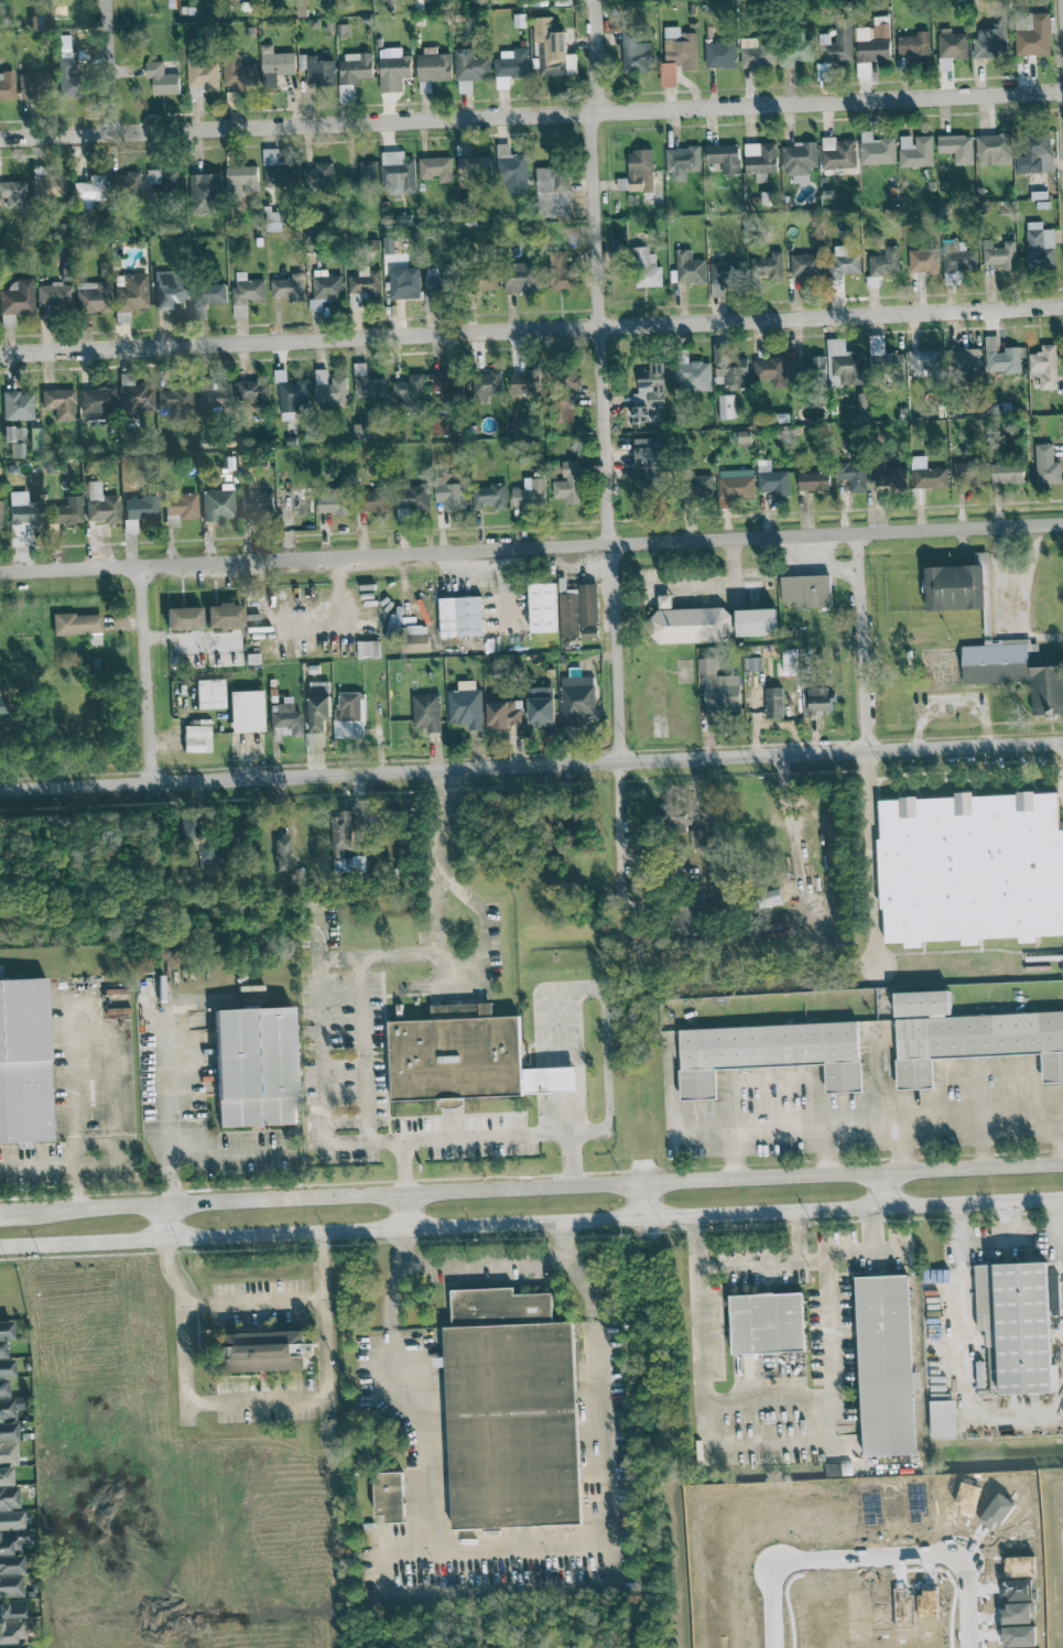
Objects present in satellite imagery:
building: (1033, 35)
building: (837, 42)
building: (991, 42)
building: (871, 44)
building: (952, 44)
building: (915, 45)
building: (681, 47)
building: (554, 48)
building: (795, 51)
building: (757, 52)
building: (636, 53)
building: (720, 54)
building: (512, 63)
building: (275, 65)
road: (110, 67)
building: (356, 67)
building: (433, 67)
building: (393, 68)
building: (469, 68)
building: (317, 69)
building: (67, 71)
building: (823, 71)
building: (204, 74)
building: (239, 74)
building: (669, 74)
building: (162, 78)
building: (33, 85)
building: (7, 86)
road: (531, 112)
building: (957, 148)
building: (876, 149)
building: (994, 150)
building: (915, 151)
building: (838, 153)
building: (1034, 156)
building: (724, 158)
building: (760, 160)
building: (799, 160)
building: (682, 162)
building: (436, 169)
building: (278, 171)
building: (475, 171)
building: (641, 171)
building: (513, 172)
building: (398, 173)
building: (319, 176)
building: (364, 176)
building: (163, 177)
building: (241, 178)
building: (124, 183)
building: (622, 184)
building: (48, 186)
building: (553, 189)
building: (88, 192)
building: (13, 193)
building: (206, 193)
building: (272, 220)
building: (1040, 246)
building: (999, 253)
building: (958, 258)
building: (923, 260)
building: (843, 262)
building: (885, 262)
building: (805, 264)
building: (768, 267)
building: (646, 268)
building: (690, 268)
building: (561, 272)
building: (724, 275)
building: (488, 278)
building: (522, 278)
building: (404, 283)
building: (438, 283)
building: (169, 288)
building: (289, 288)
building: (365, 288)
building: (131, 291)
building: (325, 291)
building: (246, 293)
building: (53, 294)
building: (93, 296)
building: (206, 299)
building: (15, 301)
building: (121, 317)
road: (531, 326)
building: (882, 355)
building: (1000, 357)
building: (966, 361)
building: (924, 362)
building: (844, 364)
building: (730, 367)
building: (1044, 367)
building: (809, 369)
building: (770, 370)
building: (694, 376)
building: (571, 378)
building: (527, 382)
road: (603, 382)
building: (449, 383)
building: (486, 384)
building: (369, 386)
building: (329, 389)
building: (411, 389)
building: (254, 392)
building: (648, 394)
building: (290, 395)
building: (216, 397)
building: (97, 399)
building: (175, 401)
building: (58, 402)
building: (863, 403)
building: (18, 406)
building: (564, 406)
building: (726, 406)
building: (441, 424)
building: (362, 432)
building: (745, 438)
building: (14, 441)
building: (649, 460)
building: (1046, 465)
building: (1007, 473)
building: (968, 474)
building: (853, 476)
building: (889, 476)
building: (931, 478)
building: (772, 479)
building: (814, 481)
building: (570, 483)
building: (737, 484)
building: (698, 486)
building: (531, 494)
building: (451, 496)
building: (491, 496)
building: (413, 497)
building: (257, 500)
building: (375, 500)
building: (334, 501)
building: (100, 503)
building: (218, 503)
building: (180, 507)
building: (23, 509)
building: (138, 511)
building: (65, 513)
road: (531, 546)
road: (715, 583)
building: (955, 587)
building: (806, 590)
road: (633, 596)
building: (588, 604)
road: (1006, 604)
building: (543, 607)
building: (568, 611)
building: (224, 615)
building: (460, 616)
building: (183, 618)
building: (690, 622)
building: (756, 622)
building: (76, 624)
building: (589, 631)
building: (93, 639)
building: (415, 639)
road: (863, 641)
building: (368, 649)
building: (790, 661)
building: (752, 663)
building: (1018, 671)
road: (148, 673)
building: (718, 686)
building: (209, 694)
building: (577, 700)
building: (818, 700)
building: (774, 703)
building: (541, 704)
building: (466, 705)
building: (2, 706)
building: (319, 706)
building: (246, 711)
building: (426, 712)
building: (505, 714)
building: (350, 715)
building: (285, 717)
building: (196, 738)
road: (531, 768)
building: (676, 816)
building: (698, 838)
building: (346, 844)
road: (622, 845)
building: (281, 852)
road: (438, 855)
road: (871, 856)
building: (208, 858)
building: (972, 867)
building: (687, 912)
building: (1062, 964)
road: (598, 991)
building: (968, 1037)
road: (323, 1051)
road: (362, 1051)
building: (768, 1053)
building: (466, 1056)
building: (23, 1062)
building: (253, 1066)
road: (70, 1080)
road: (161, 1107)
road: (892, 1119)
road: (576, 1132)
road: (514, 1135)
road: (981, 1142)
road: (898, 1147)
road: (825, 1150)
road: (61, 1163)
road: (531, 1191)
road: (402, 1214)
road: (1062, 1217)
road: (166, 1225)
road: (531, 1226)
road: (956, 1229)
road: (810, 1257)
road: (484, 1258)
road: (767, 1258)
road: (823, 1277)
road: (254, 1300)
building: (767, 1323)
building: (262, 1351)
building: (885, 1363)
road: (963, 1383)
road: (695, 1387)
road: (256, 1401)
building: (8, 1402)
building: (510, 1410)
building: (942, 1418)
building: (4, 1476)
building: (389, 1495)
building: (9, 1498)
road: (512, 1549)
road: (869, 1560)
building: (11, 1585)
building: (11, 1608)
building: (11, 1630)
building: (13, 1646)

